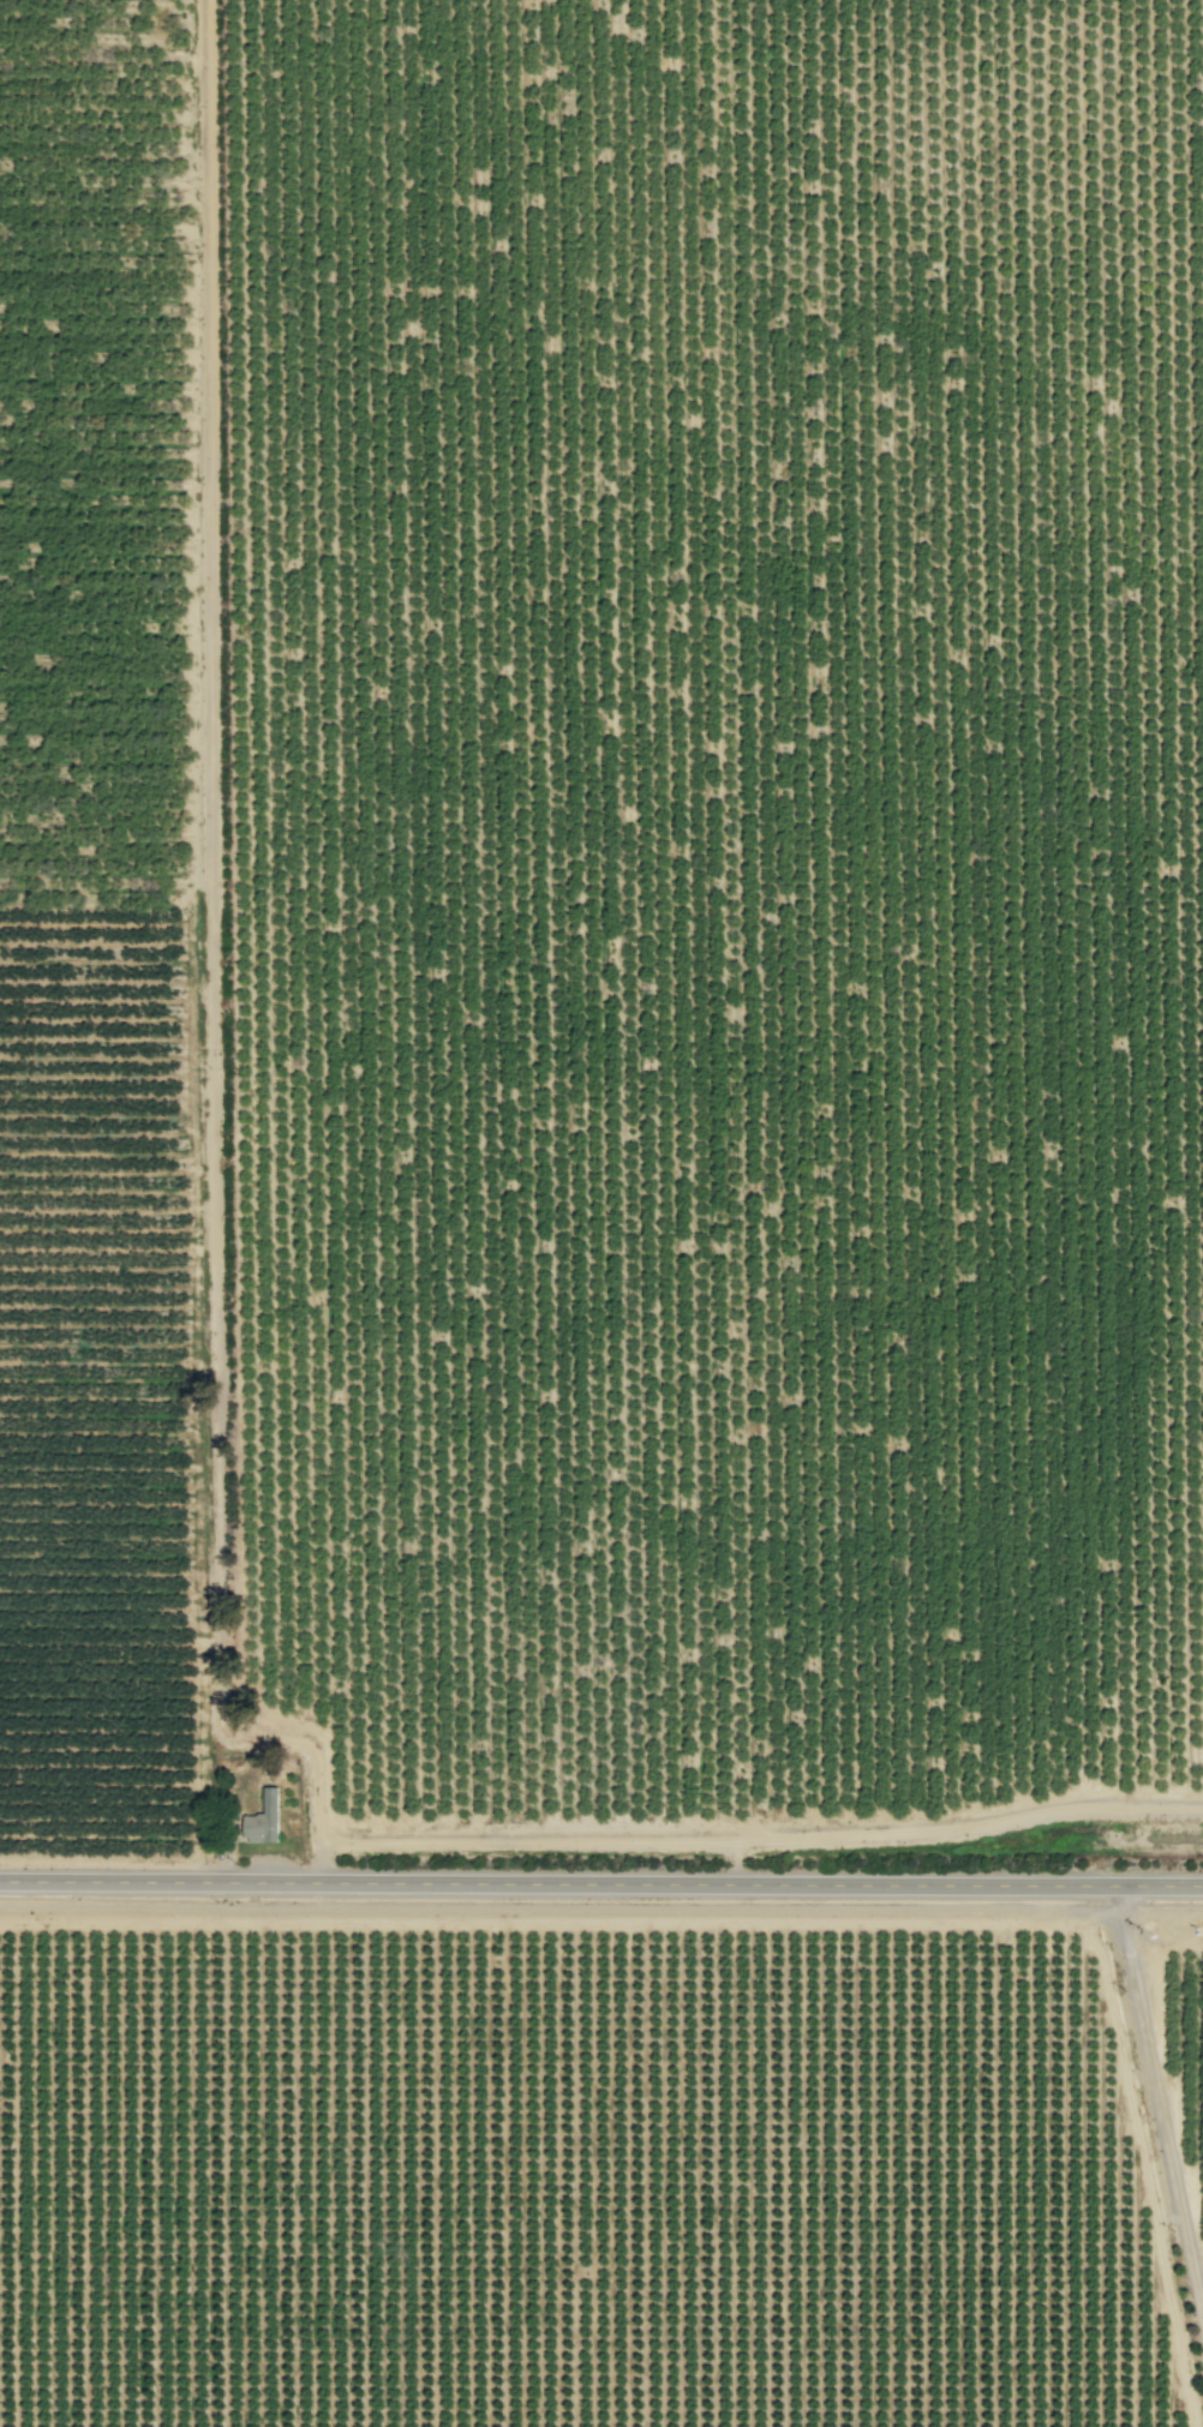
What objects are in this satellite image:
building: (264, 1821)
road: (600, 1888)
road: (1157, 2110)

